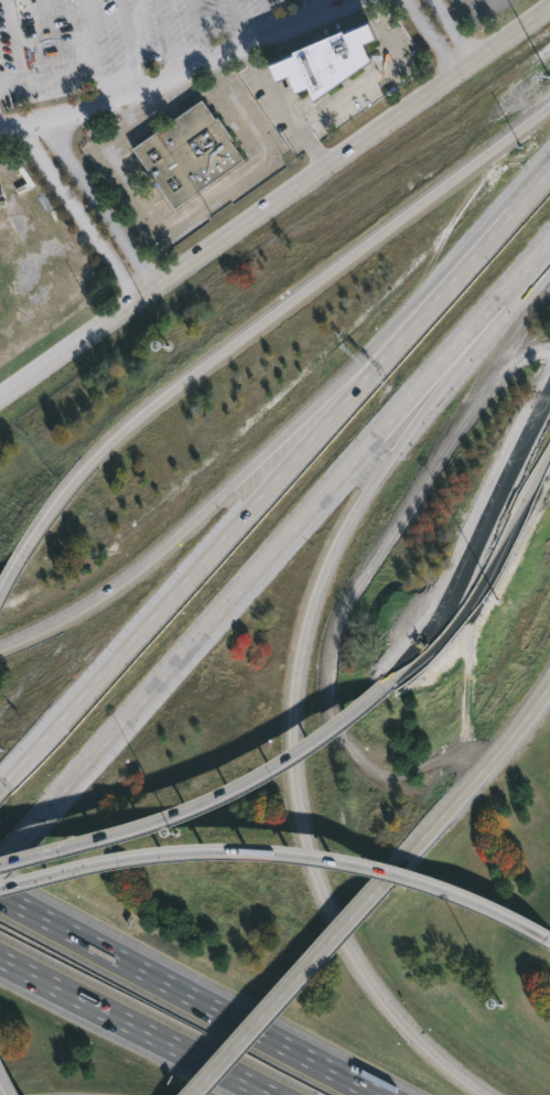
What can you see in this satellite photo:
road: (342, 4)
road: (305, 11)
road: (272, 18)
road: (236, 25)
road: (457, 30)
road: (199, 33)
road: (431, 37)
parking lot: (107, 39)
building: (331, 61)
road: (185, 75)
road: (364, 83)
road: (284, 109)
building: (190, 153)
road: (97, 206)
road: (276, 206)
road: (79, 218)
road: (466, 262)
road: (530, 280)
road: (267, 321)
road: (342, 389)
road: (293, 530)
road: (162, 549)
road: (192, 573)
road: (7, 579)
road: (472, 579)
road: (295, 702)
road: (462, 798)
road: (199, 804)
road: (19, 838)
road: (274, 860)
road: (544, 944)
road: (188, 995)
road: (288, 1002)
road: (134, 1027)
road: (0, 1093)

